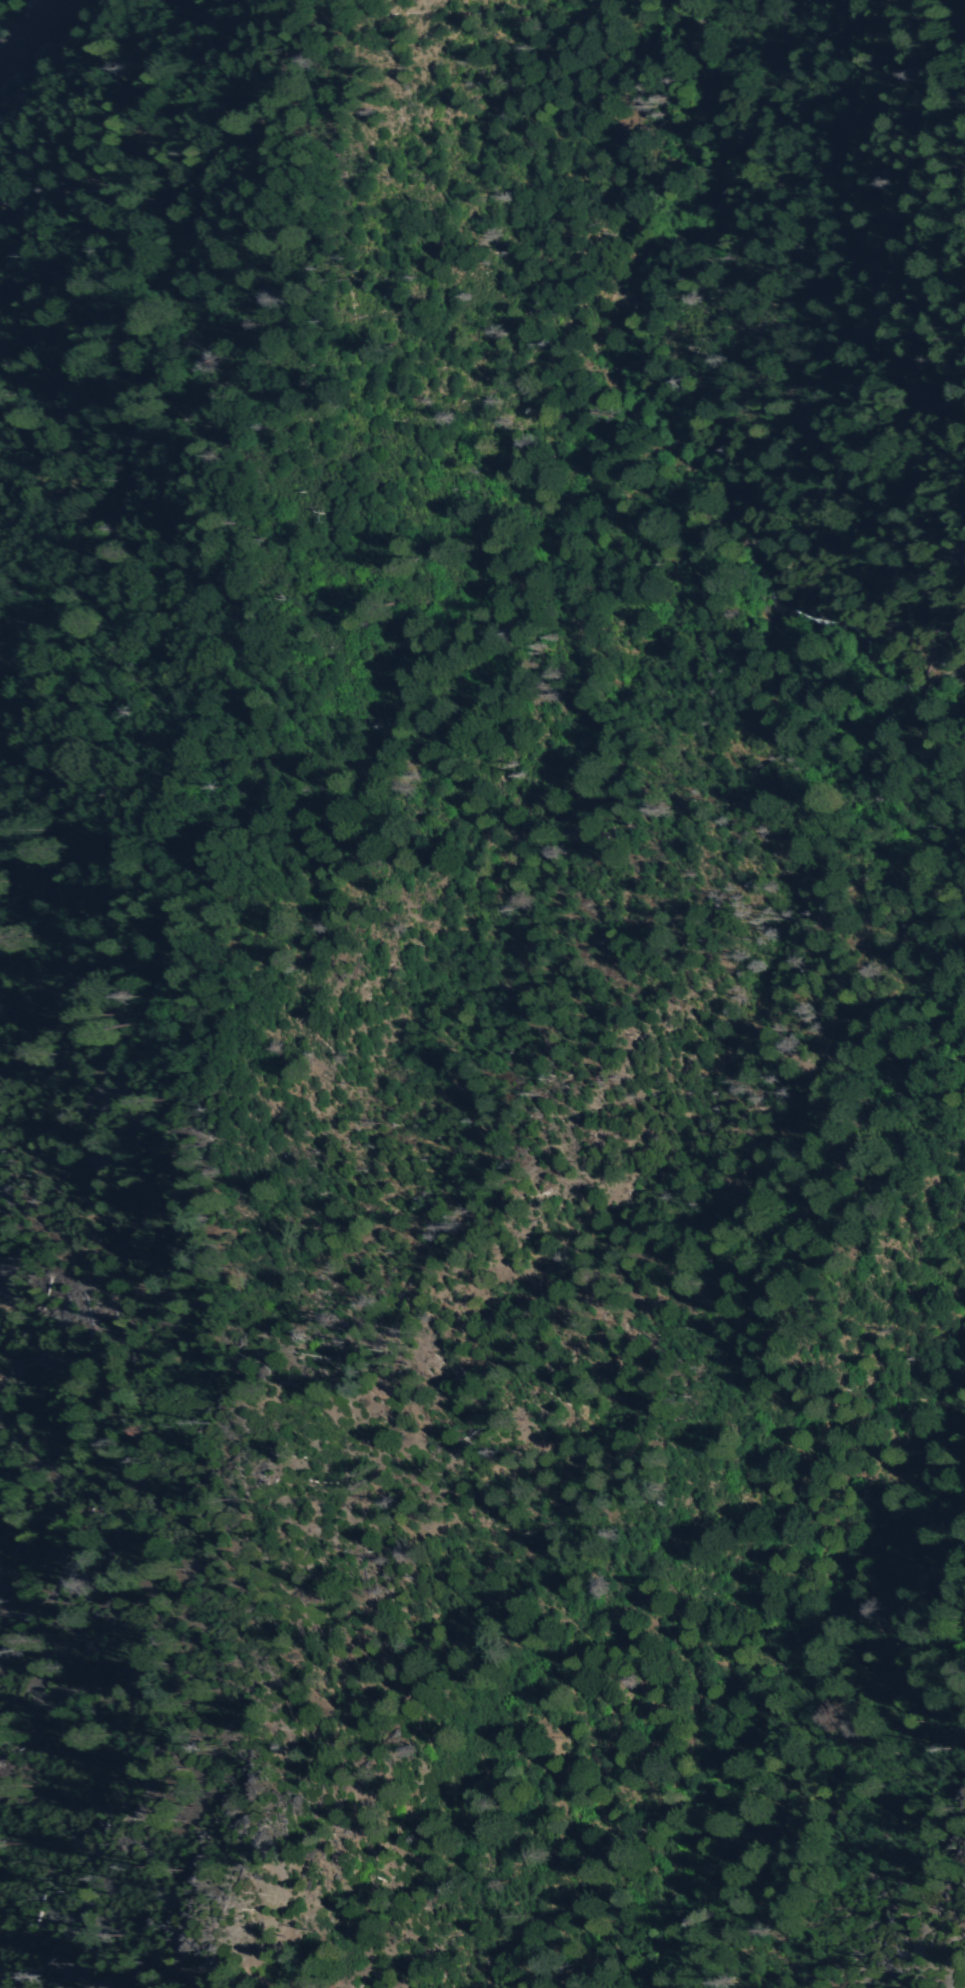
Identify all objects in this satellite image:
railway: (23, 28)
railway: (34, 40)

